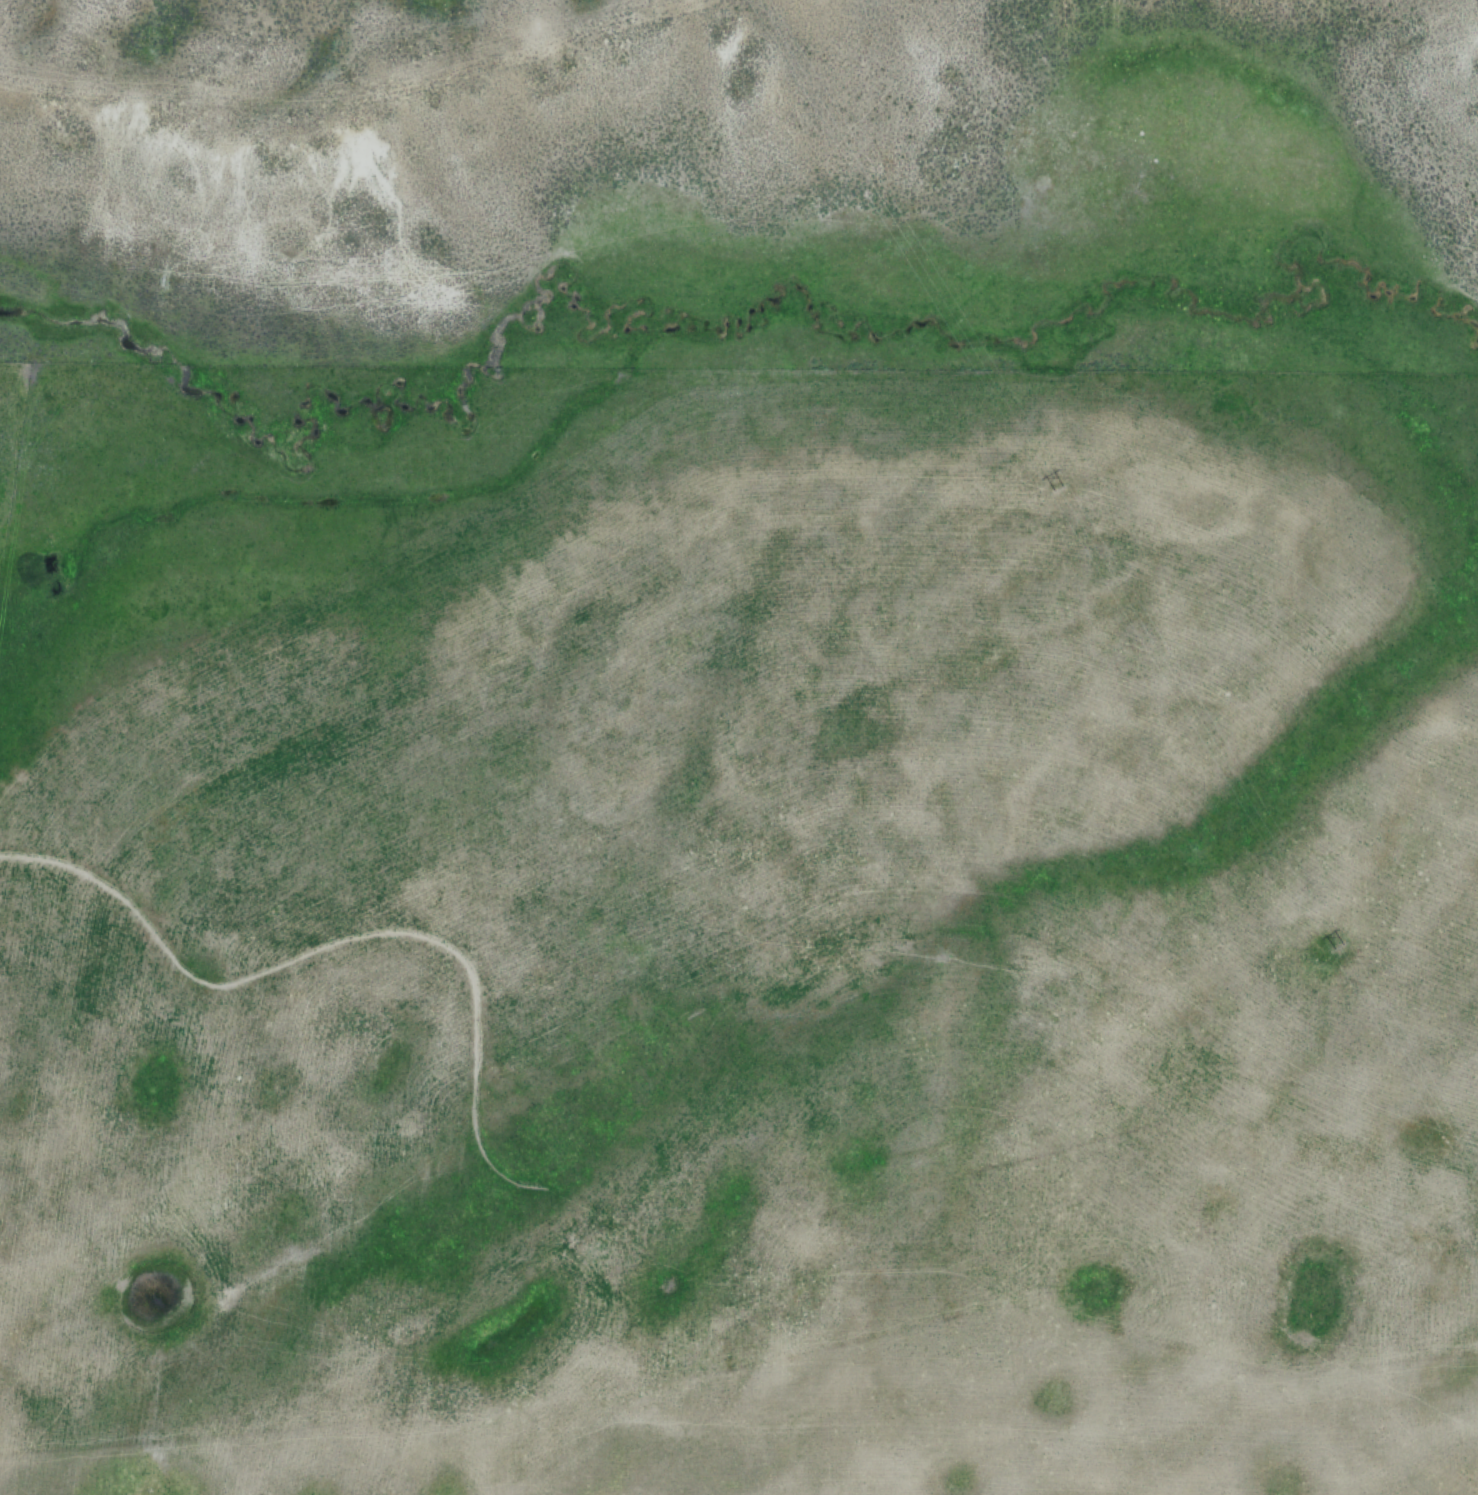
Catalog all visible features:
power tower: (1053, 489)
power tower: (1337, 953)

